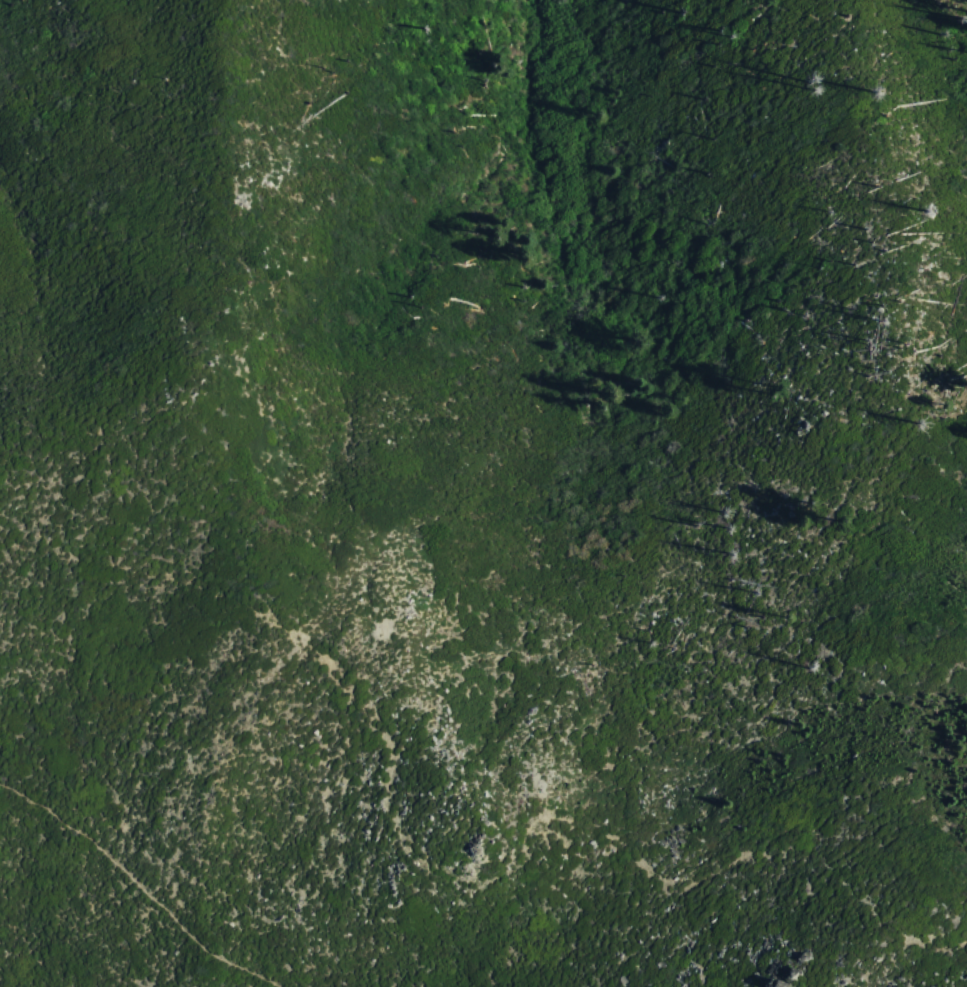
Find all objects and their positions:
road: (141, 886)

